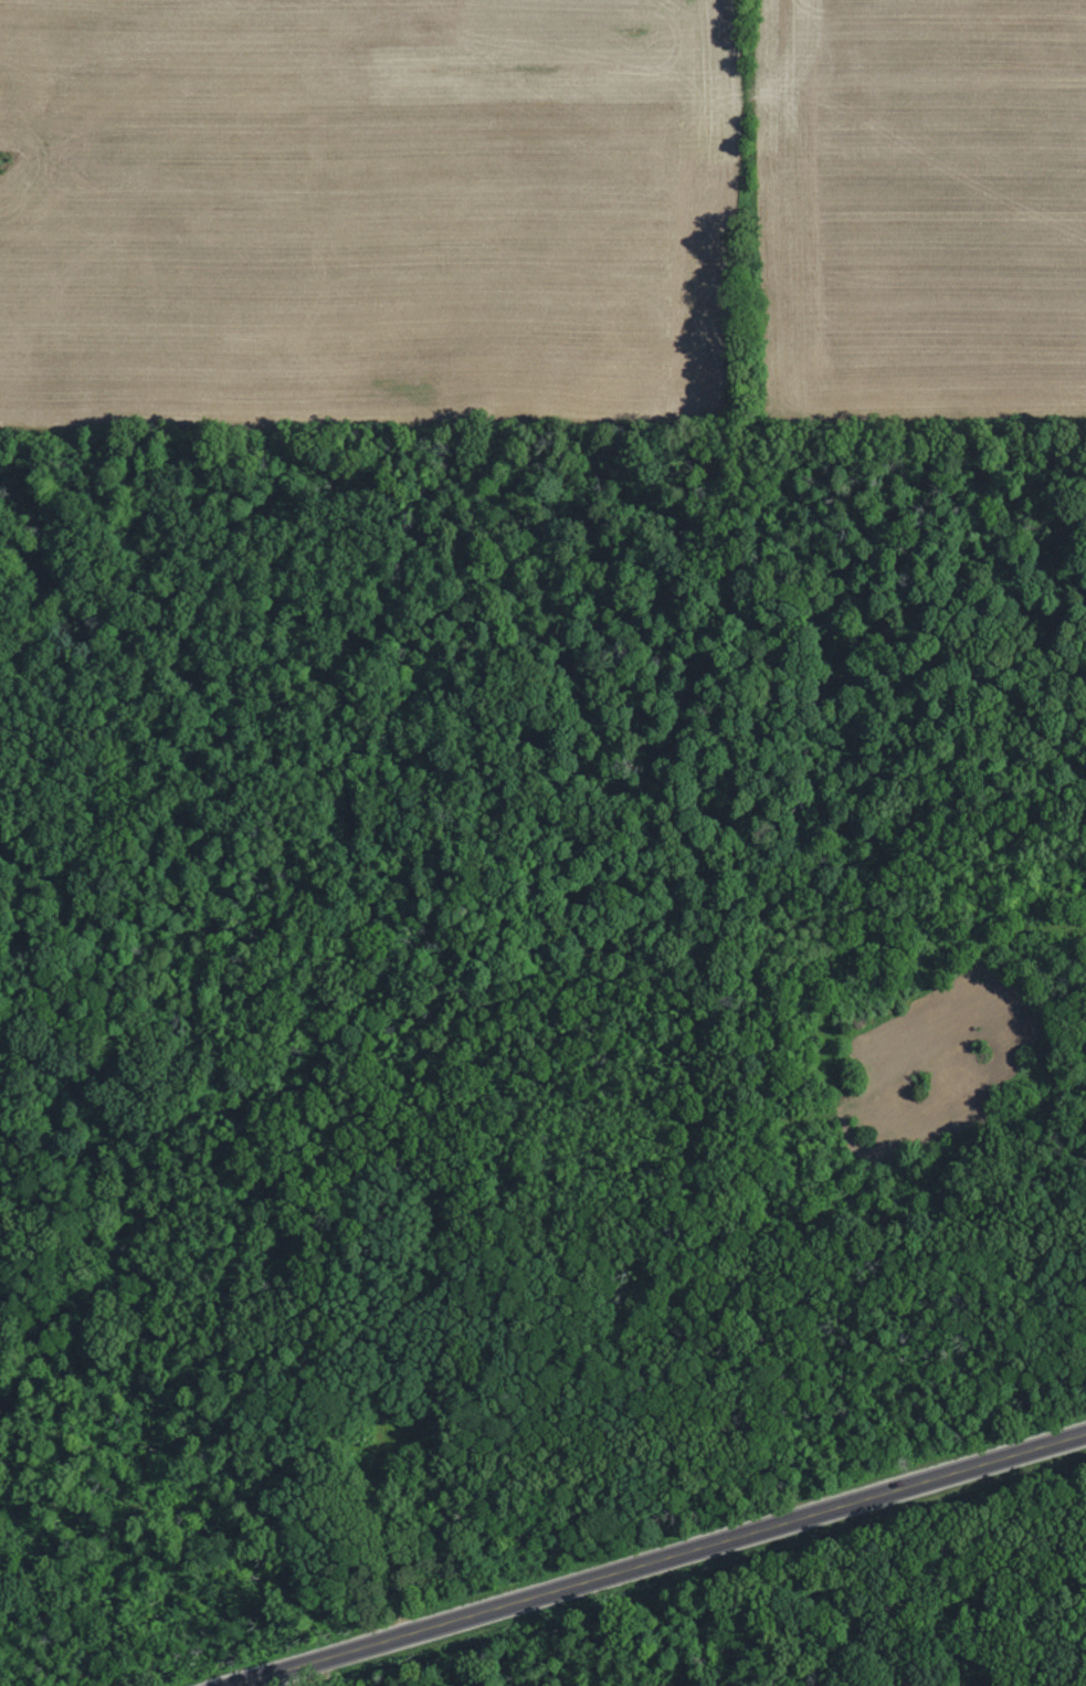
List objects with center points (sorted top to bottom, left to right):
road: (634, 1555)
road: (282, 1672)
road: (240, 1678)

